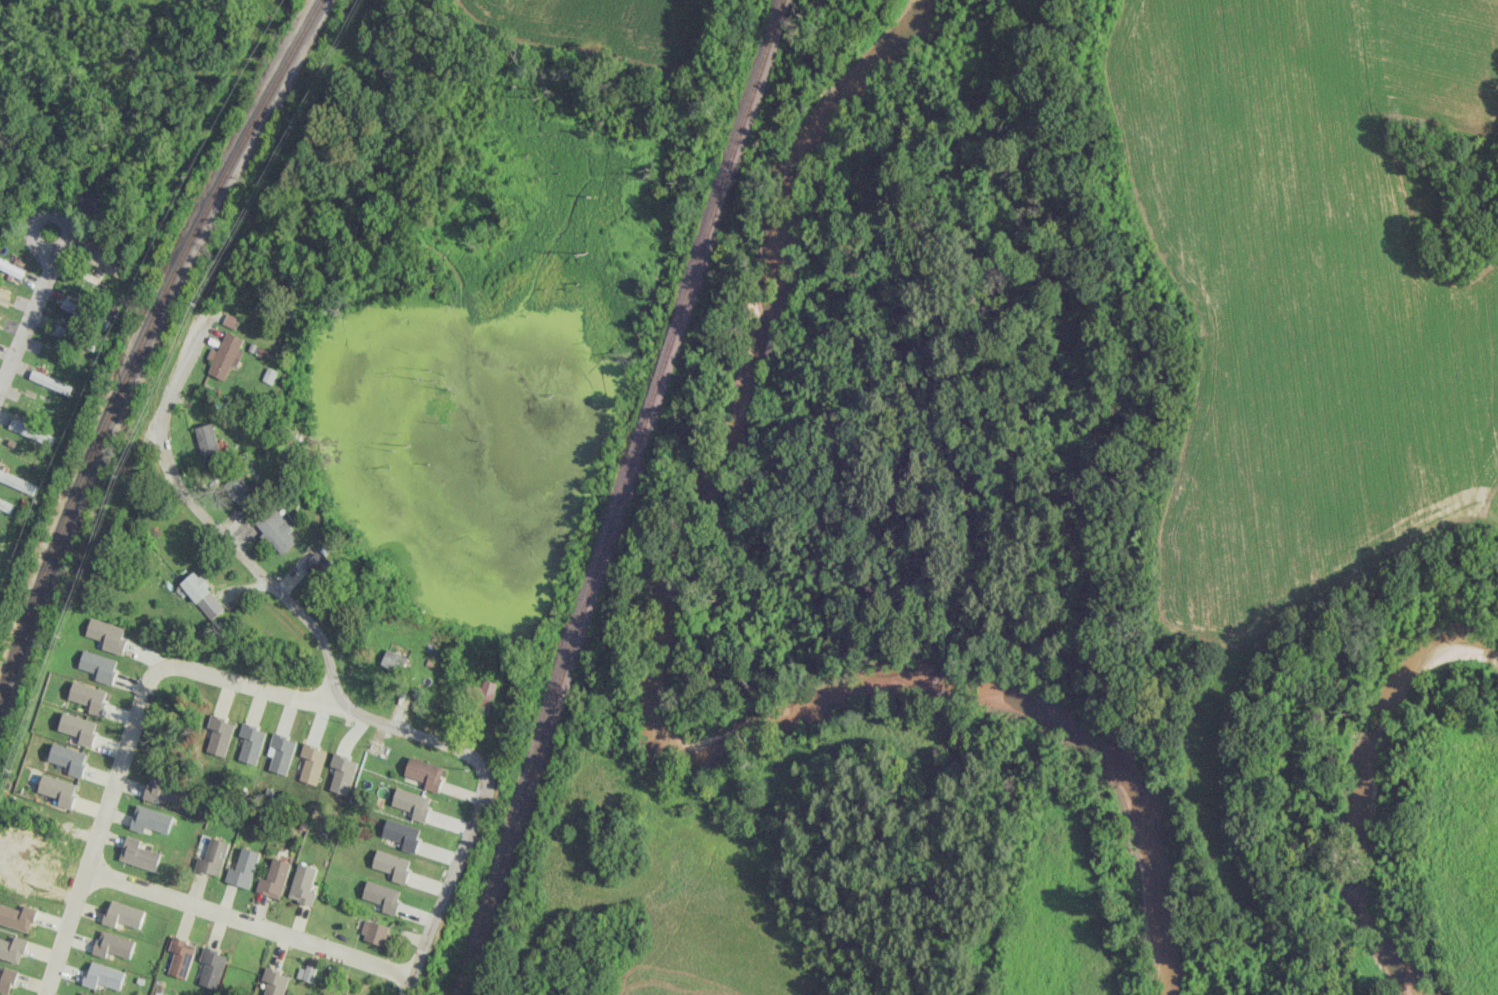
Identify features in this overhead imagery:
building: (10, 267)
building: (93, 275)
building: (5, 291)
building: (70, 306)
road: (27, 319)
building: (61, 332)
railway: (143, 340)
building: (225, 355)
building: (50, 382)
building: (31, 431)
building: (206, 438)
building: (18, 482)
building: (240, 488)
railway: (620, 497)
building: (6, 505)
building: (277, 529)
road: (221, 530)
building: (317, 564)
building: (202, 594)
building: (107, 635)
building: (393, 660)
building: (98, 665)
road: (245, 683)
building: (483, 693)
building: (88, 696)
river: (650, 705)
building: (78, 727)
building: (219, 735)
building: (250, 743)
building: (280, 753)
building: (68, 758)
building: (312, 763)
building: (424, 772)
building: (343, 773)
river: (1365, 782)
building: (58, 789)
building: (163, 790)
building: (412, 802)
road: (477, 804)
building: (150, 819)
road: (99, 826)
building: (401, 833)
building: (138, 853)
building: (213, 857)
building: (391, 864)
building: (243, 868)
building: (274, 878)
building: (303, 884)
building: (382, 895)
building: (121, 913)
building: (17, 915)
road: (248, 924)
building: (374, 932)
building: (112, 943)
building: (11, 947)
building: (179, 955)
building: (211, 967)
building: (306, 972)
building: (102, 974)
building: (6, 977)
building: (274, 982)
building: (84, 993)

